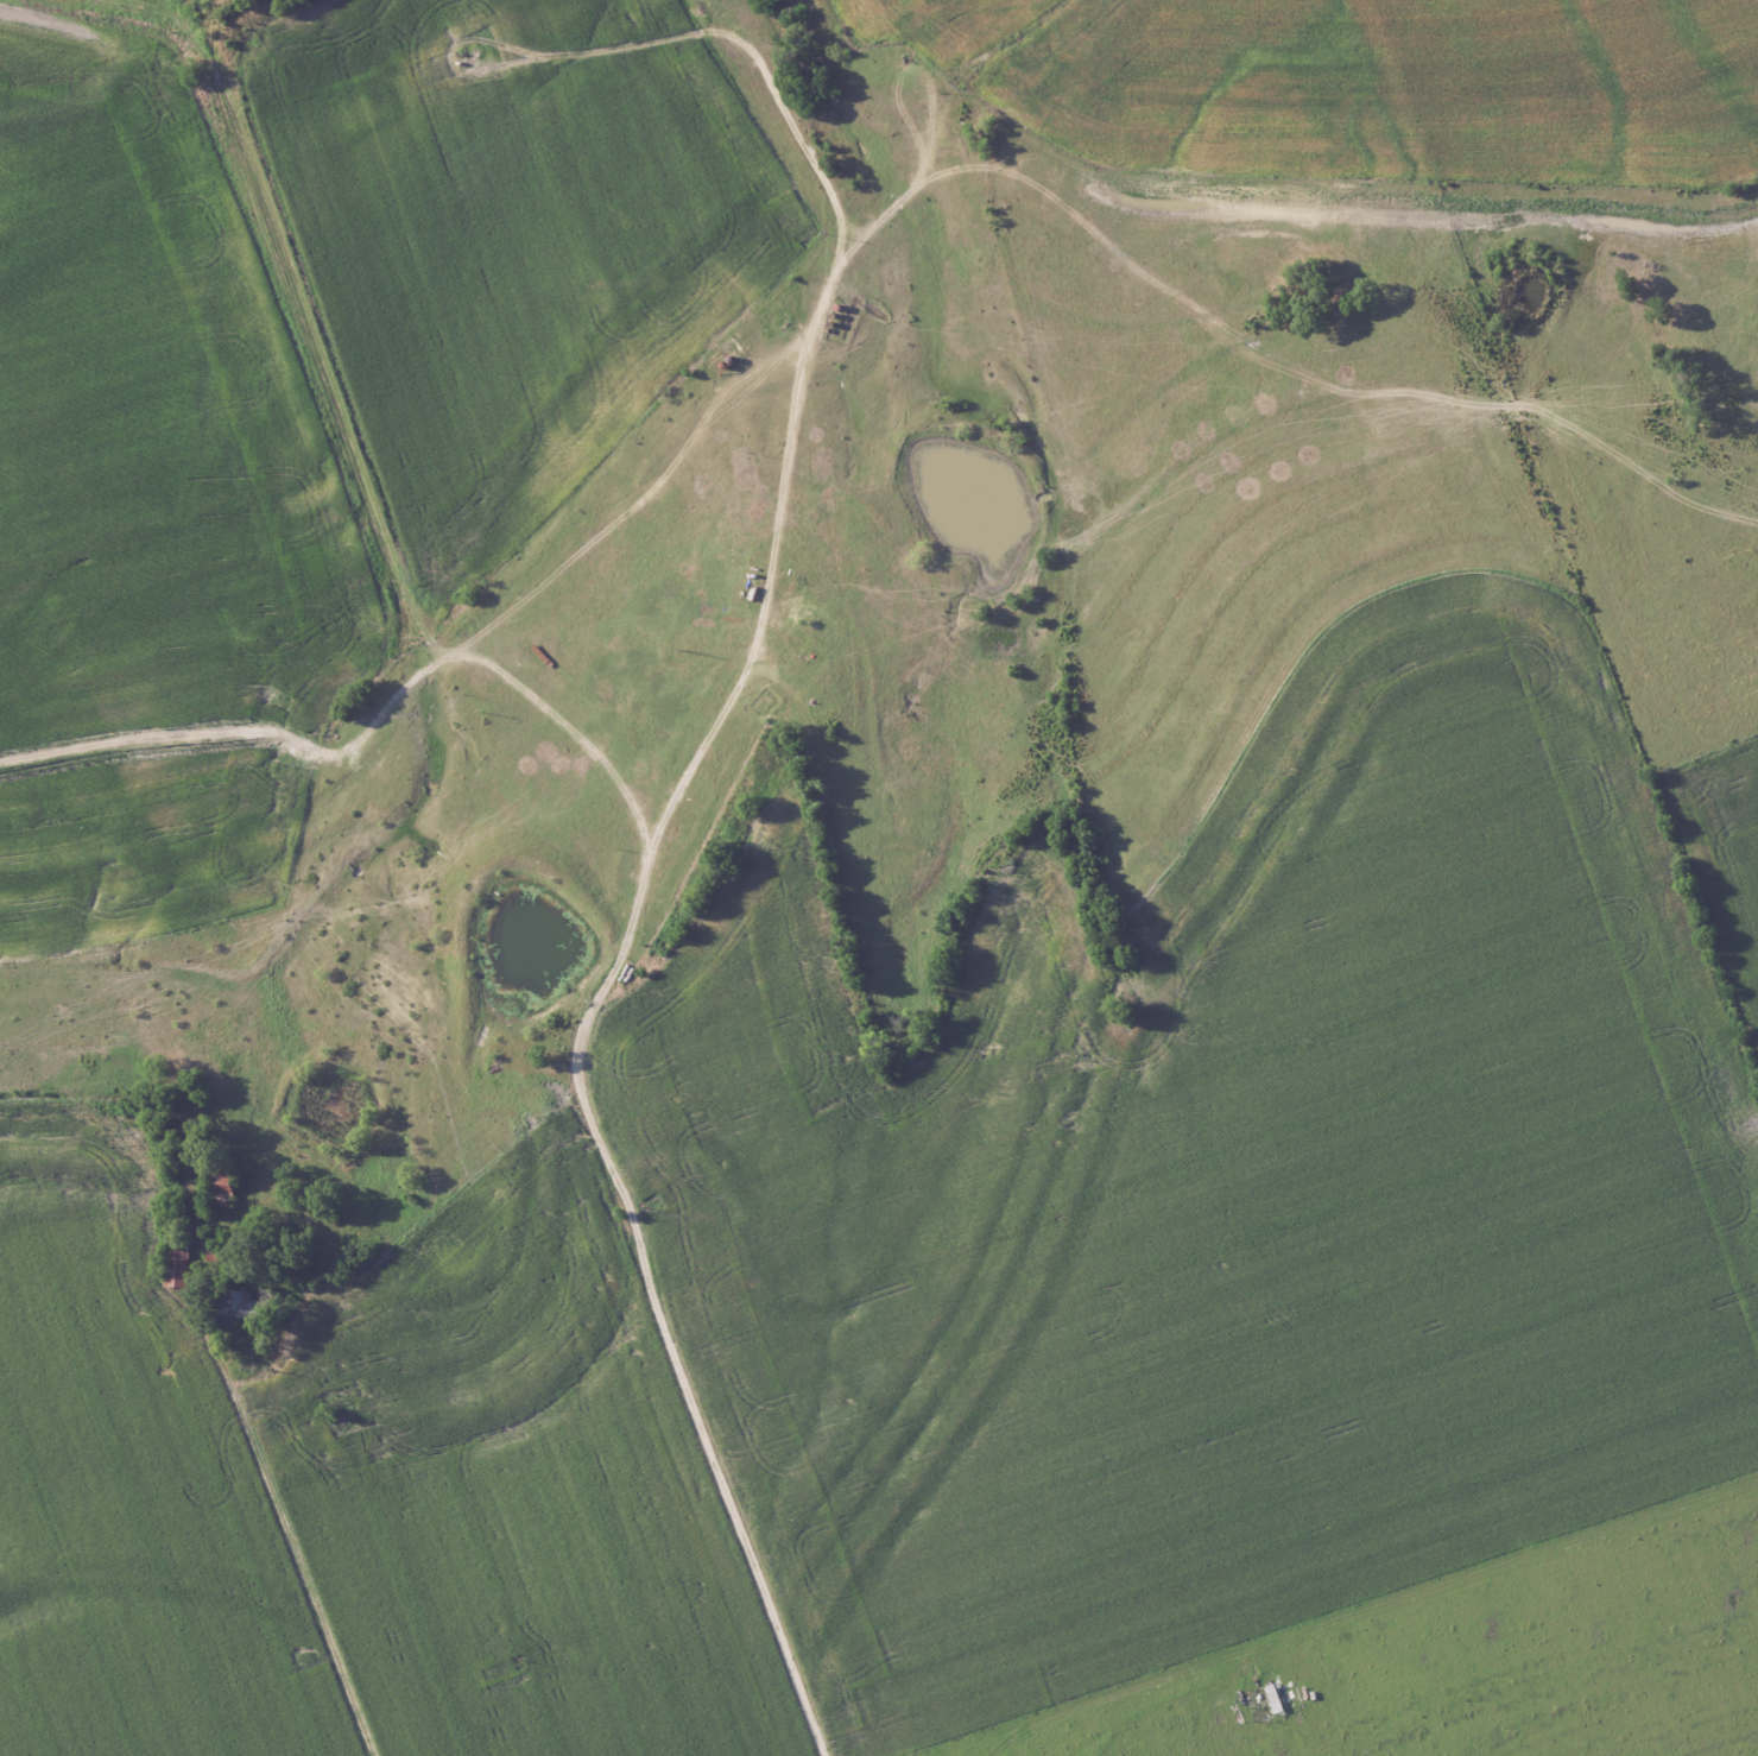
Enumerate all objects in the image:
road: (302, 1531)

